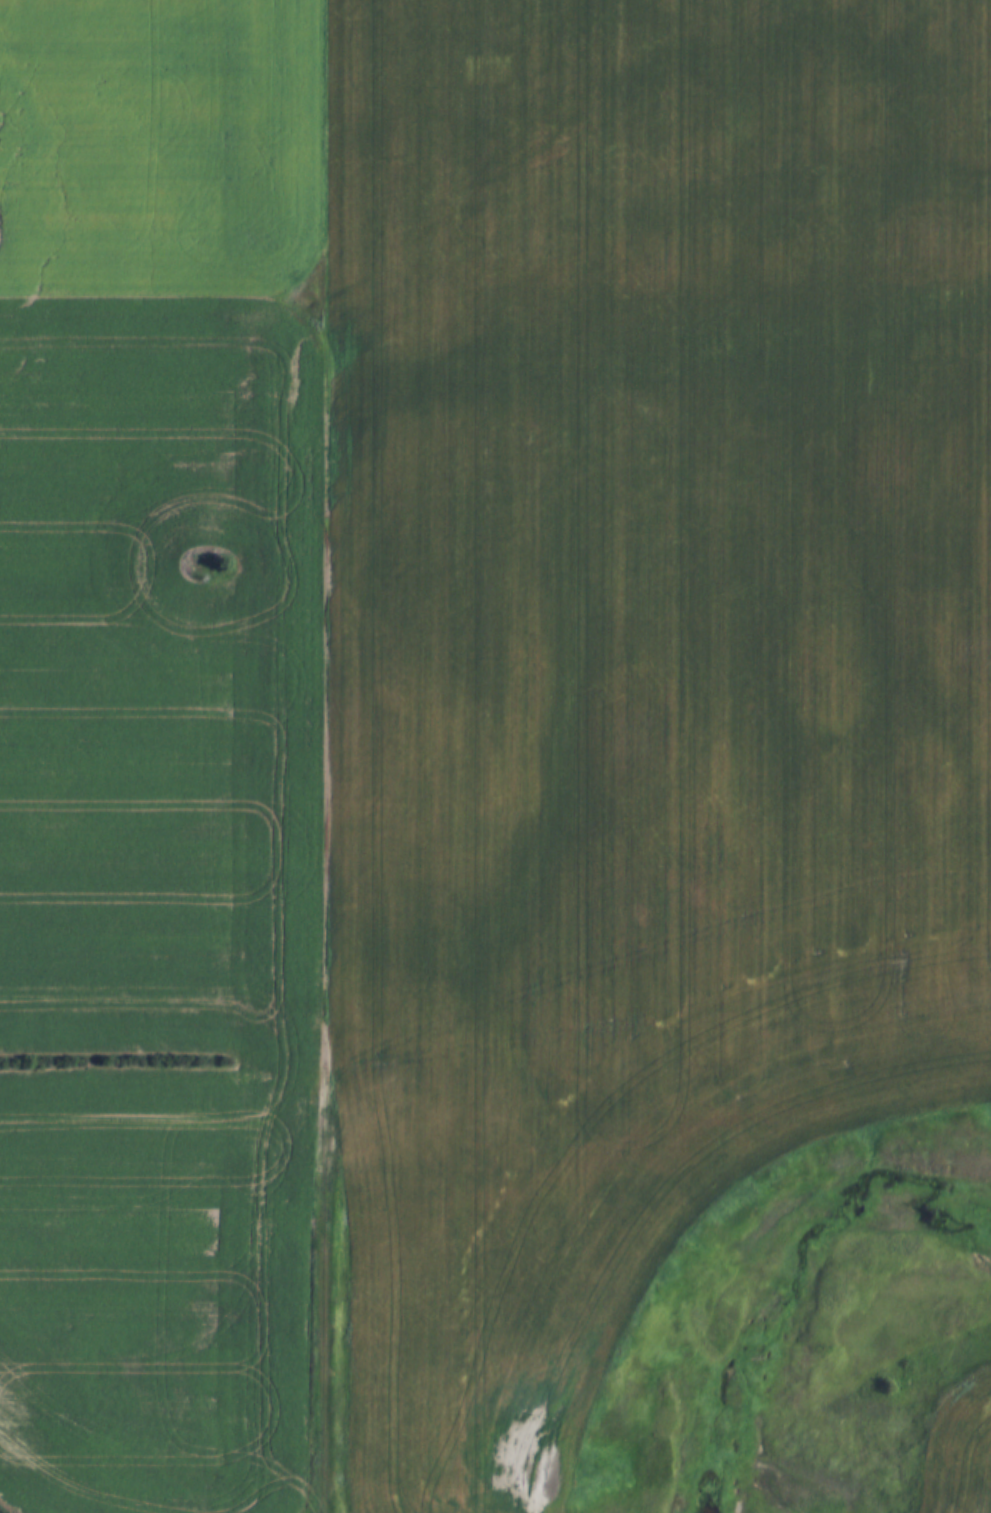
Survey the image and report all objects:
road: (328, 756)
road: (163, 1070)

